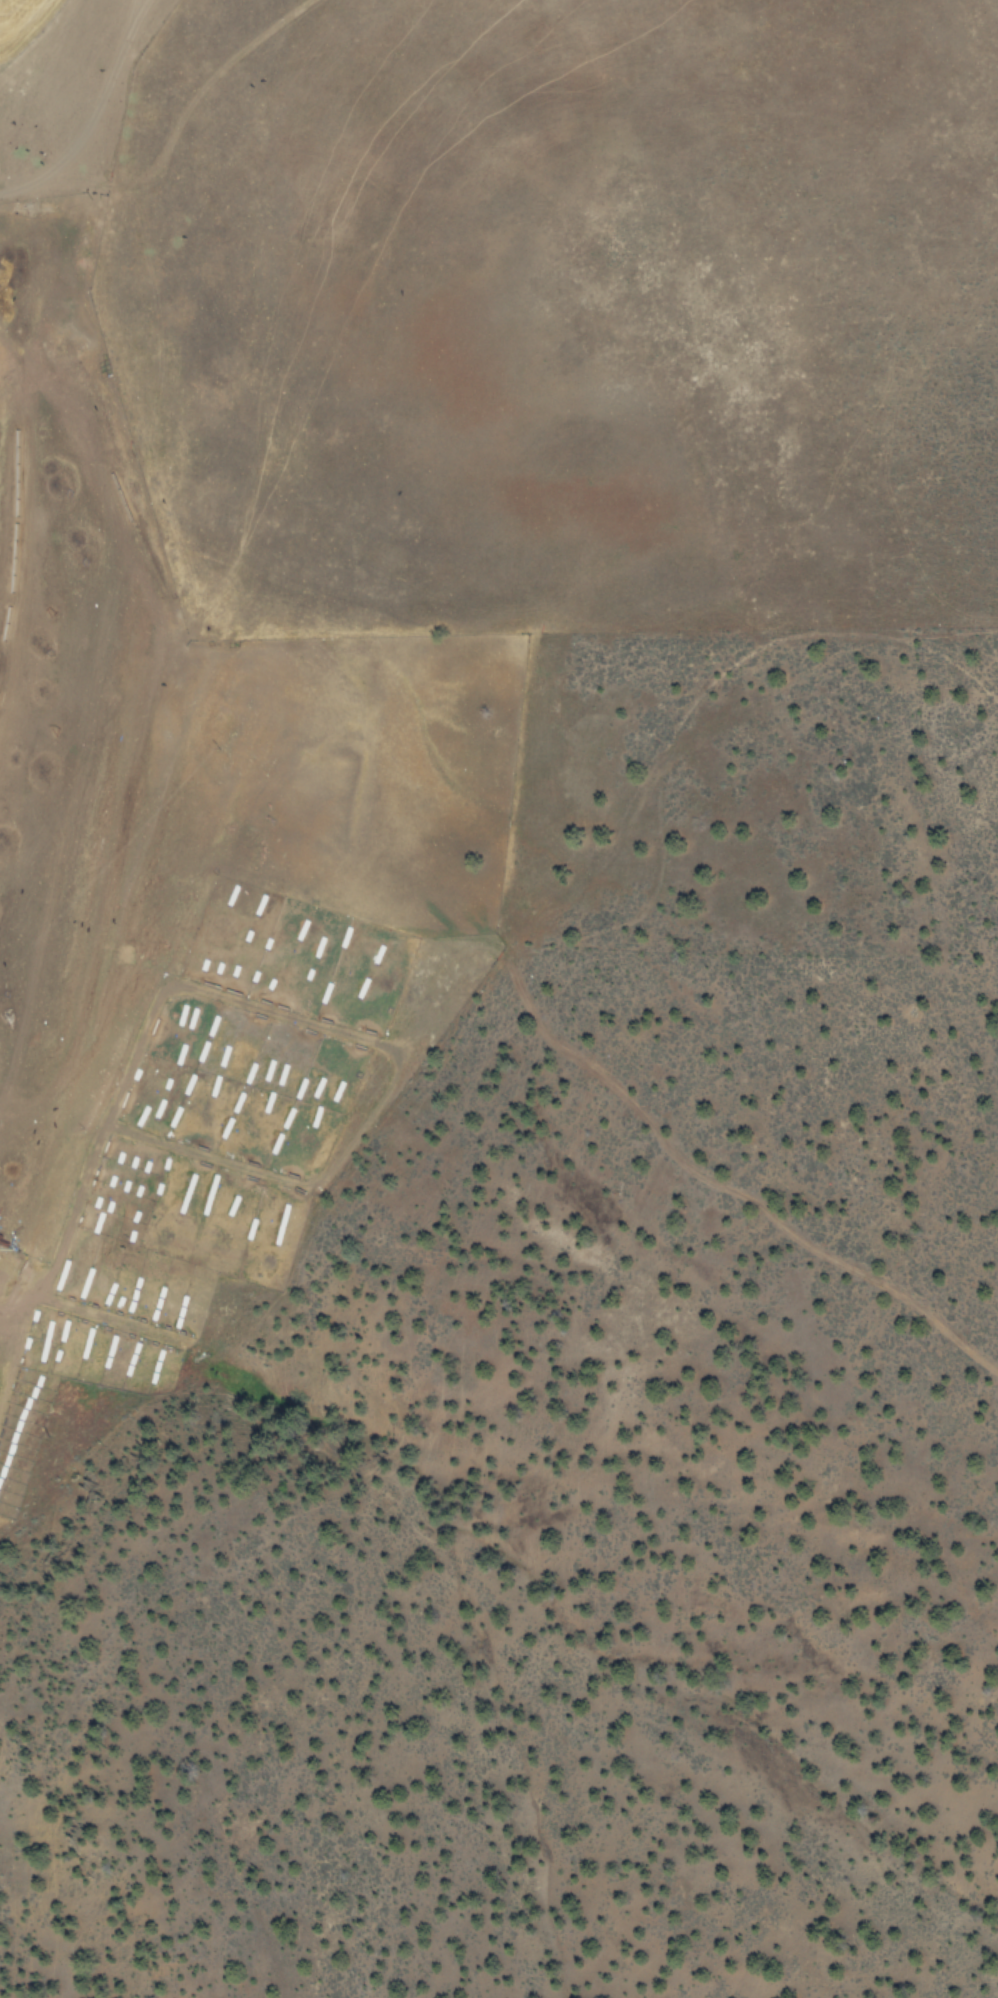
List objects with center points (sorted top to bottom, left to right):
crop: (49, 33)
road: (278, 481)
crop: (186, 763)
building: (187, 1019)
building: (225, 1058)
building: (250, 1075)
building: (283, 1077)
building: (319, 1090)
building: (300, 1092)
building: (238, 1105)
building: (288, 1121)
building: (227, 1130)
building: (278, 1146)
building: (86, 1285)
building: (158, 1307)
building: (110, 1355)
building: (157, 1369)

